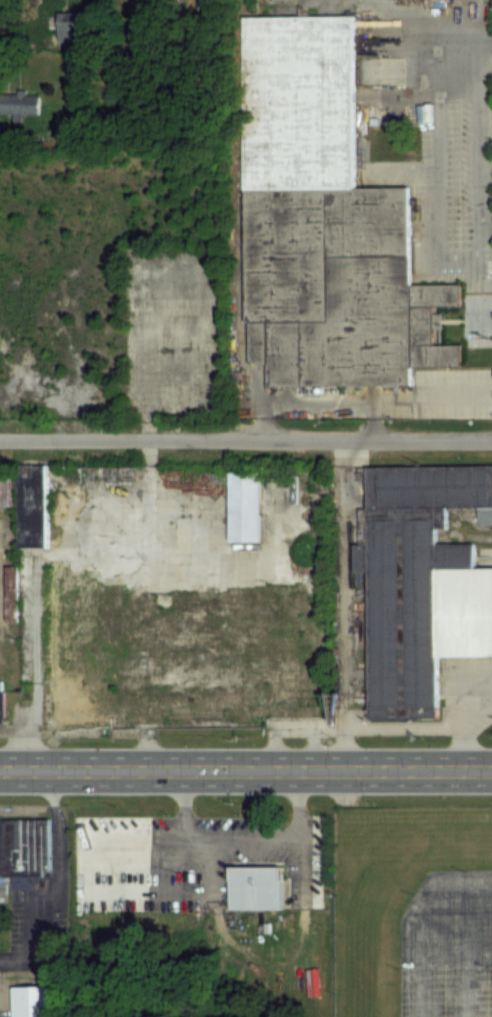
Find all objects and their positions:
building: (20, 102)
road: (433, 160)
building: (323, 222)
road: (246, 442)
building: (8, 484)
building: (31, 505)
building: (244, 506)
building: (420, 582)
building: (83, 640)
building: (0, 701)
building: (294, 711)
road: (467, 714)
road: (349, 726)
road: (312, 748)
road: (345, 748)
road: (245, 769)
building: (23, 846)
building: (166, 888)
building: (254, 888)
road: (411, 913)
road: (462, 946)
building: (32, 1001)

